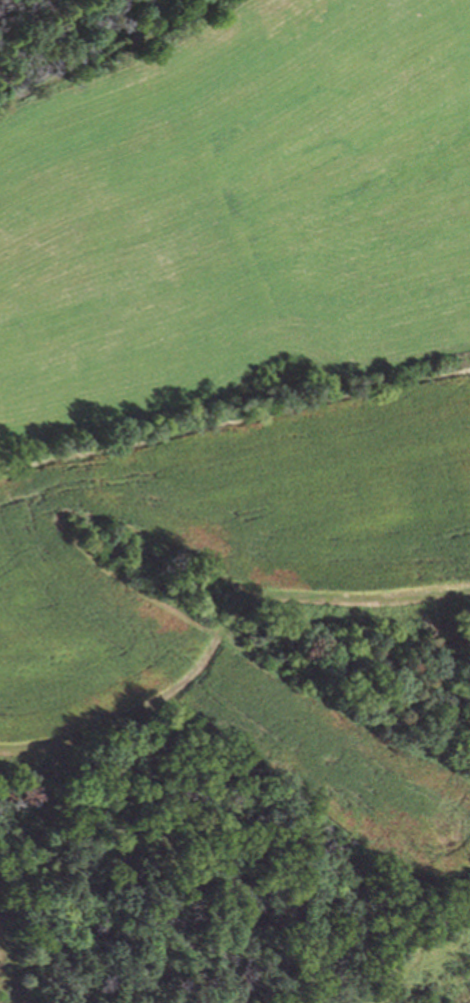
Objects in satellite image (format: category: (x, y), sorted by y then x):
road: (220, 628)

